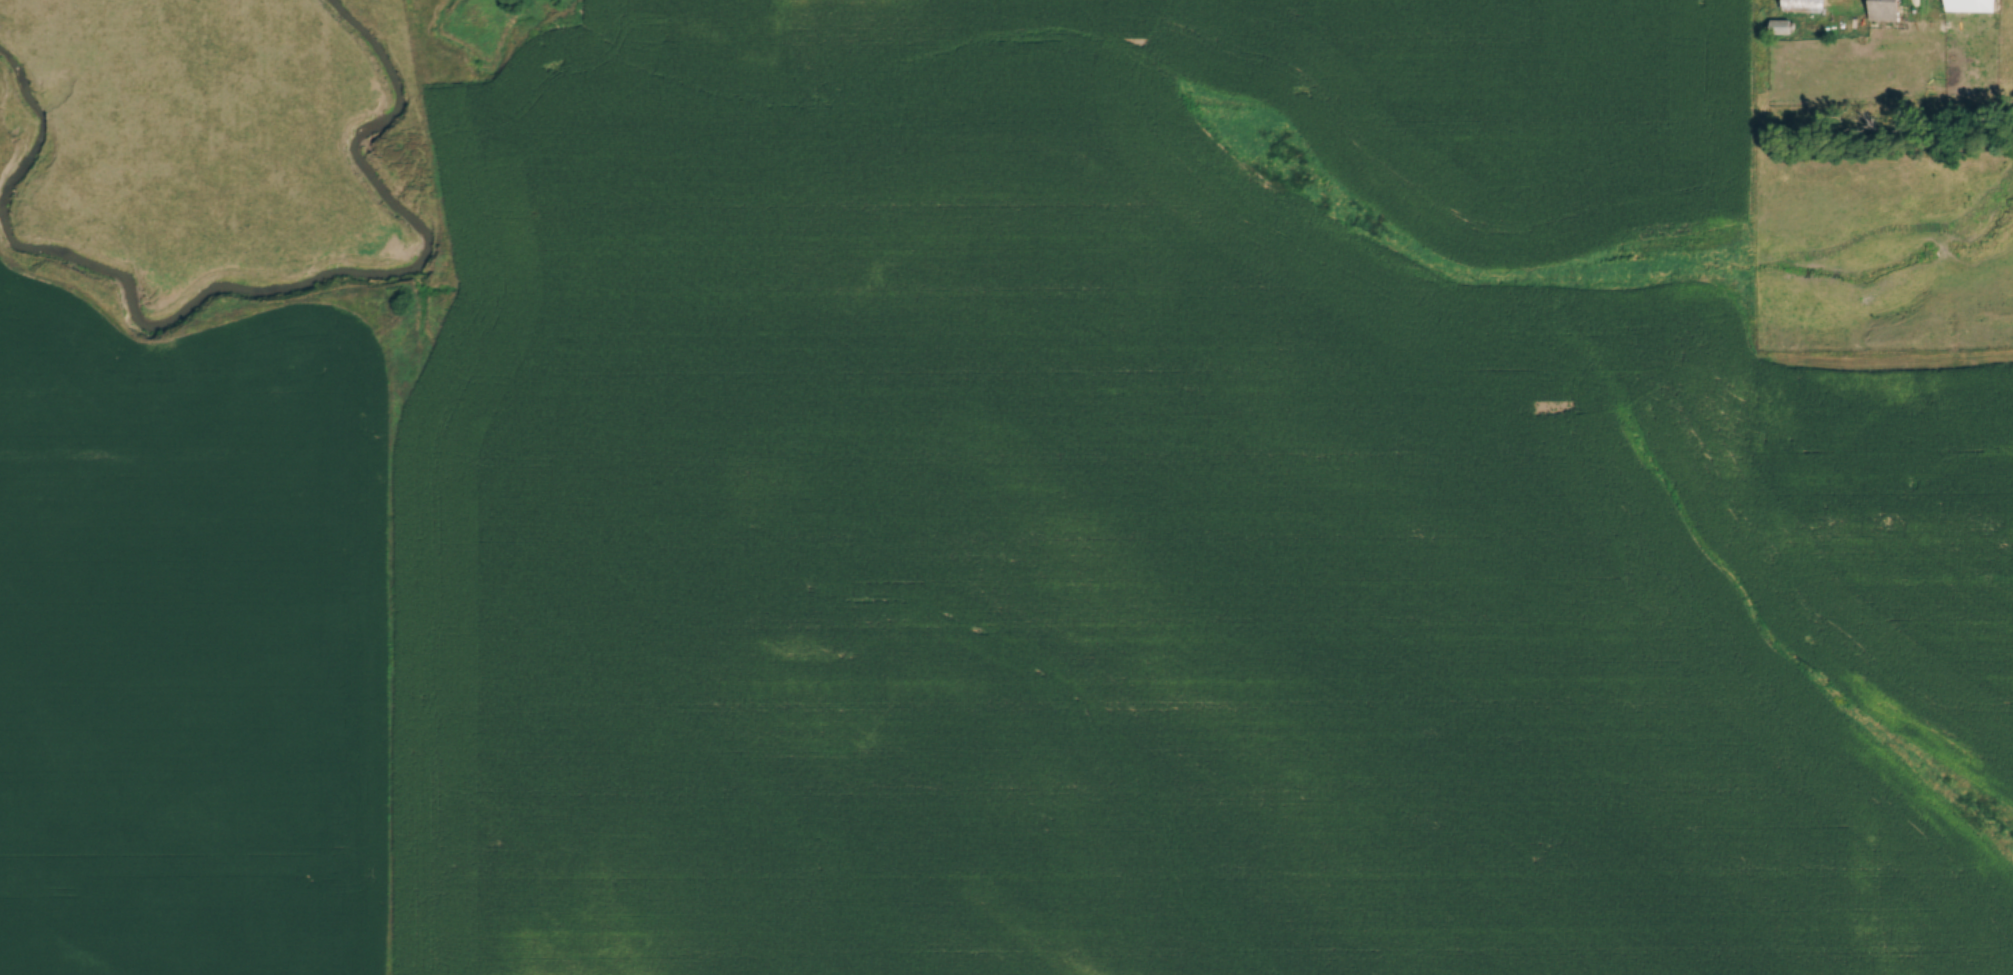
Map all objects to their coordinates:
building: (1805, 6)
building: (1972, 6)
building: (1885, 10)
building: (1782, 26)
river: (18, 118)
river: (332, 270)

